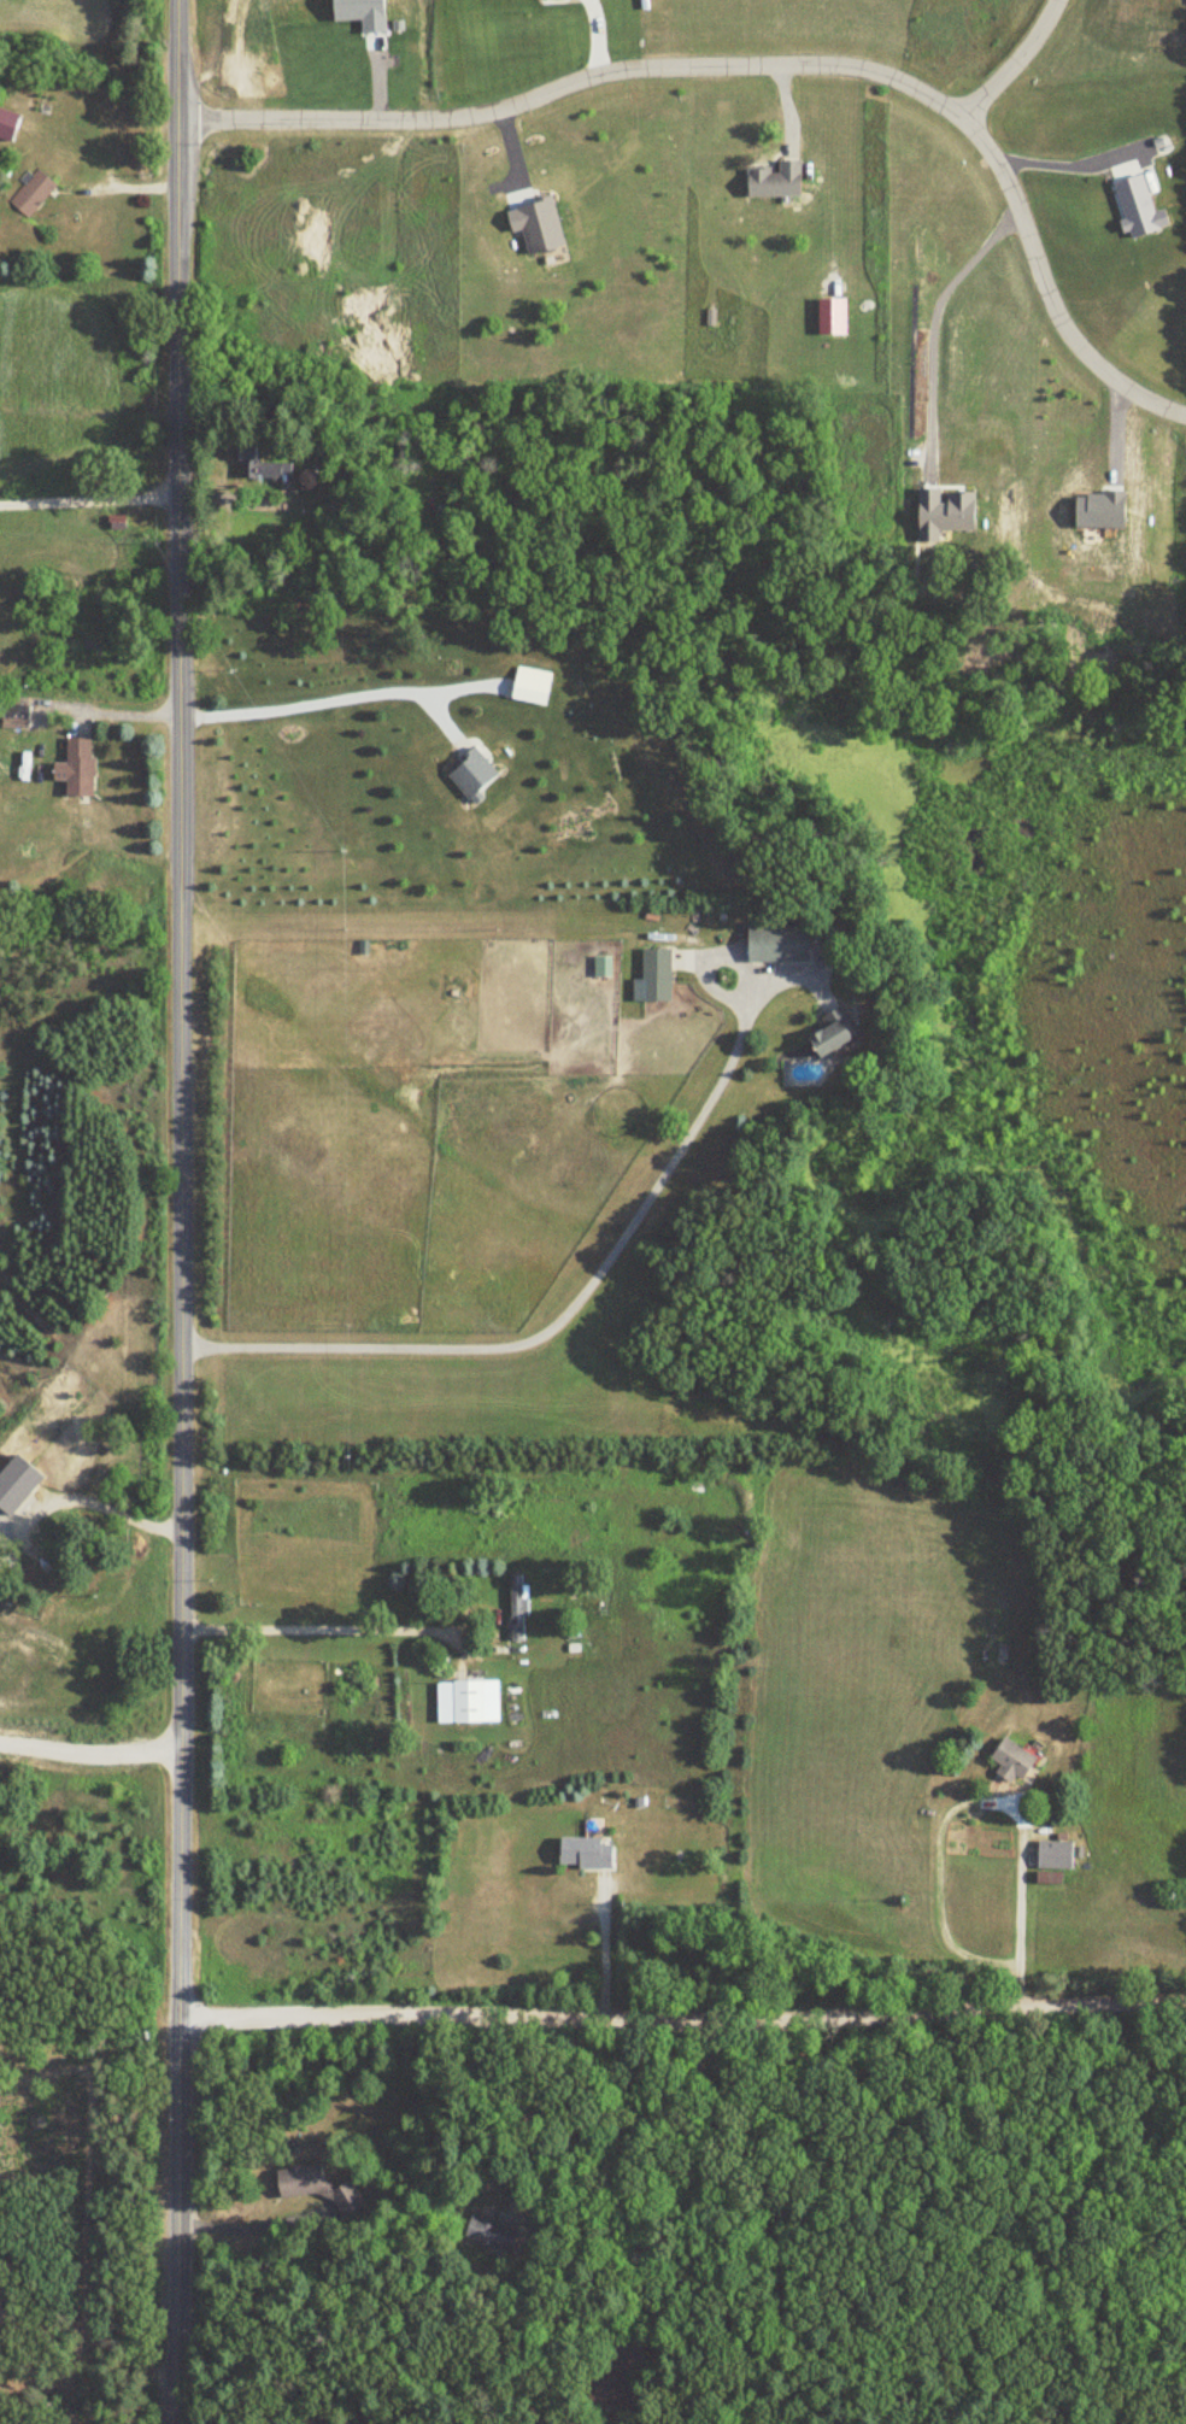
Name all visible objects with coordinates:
road: (1014, 63)
road: (768, 64)
building: (43, 106)
building: (6, 125)
road: (1057, 148)
building: (773, 181)
building: (30, 194)
road: (1002, 372)
building: (243, 444)
road: (88, 485)
building: (528, 689)
road: (317, 702)
building: (13, 715)
building: (74, 765)
building: (468, 771)
building: (774, 943)
building: (651, 975)
building: (828, 1031)
road: (182, 1211)
road: (564, 1313)
road: (96, 1502)
building: (516, 1608)
road: (322, 1626)
building: (472, 1701)
road: (89, 1756)
building: (1009, 1761)
road: (969, 1798)
building: (582, 1853)
building: (1052, 1854)
road: (603, 1954)
road: (682, 2019)
road: (622, 2153)
building: (295, 2181)
road: (1062, 2220)
road: (240, 2229)
building: (489, 2234)
building: (611, 2379)
building: (324, 2422)

